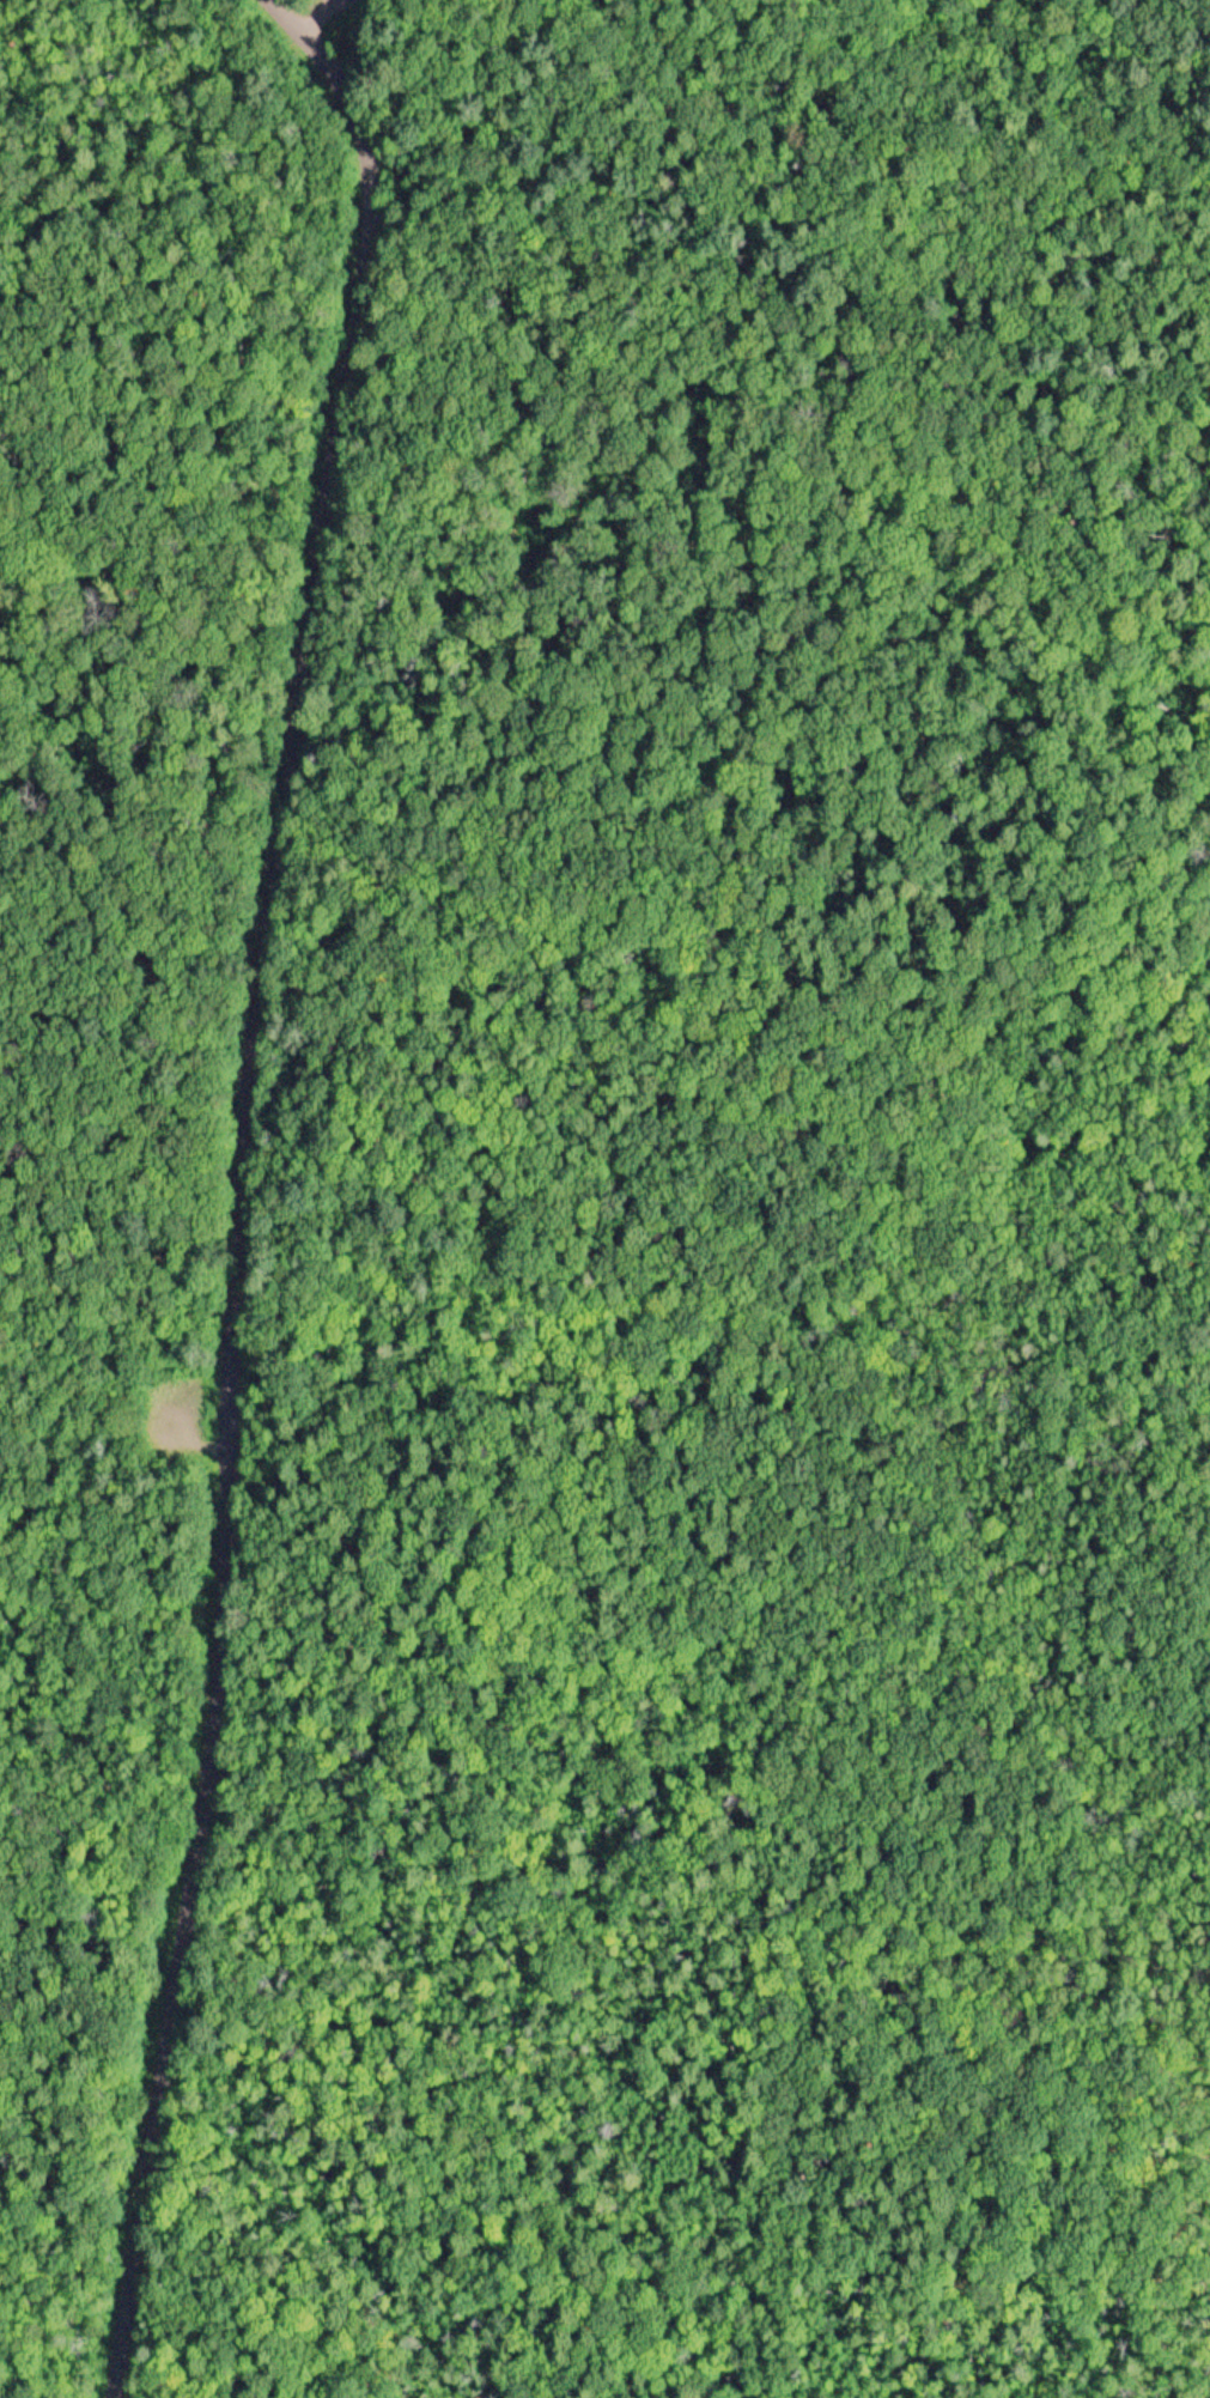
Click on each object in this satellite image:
road: (326, 37)
road: (250, 1186)
road: (108, 1459)

